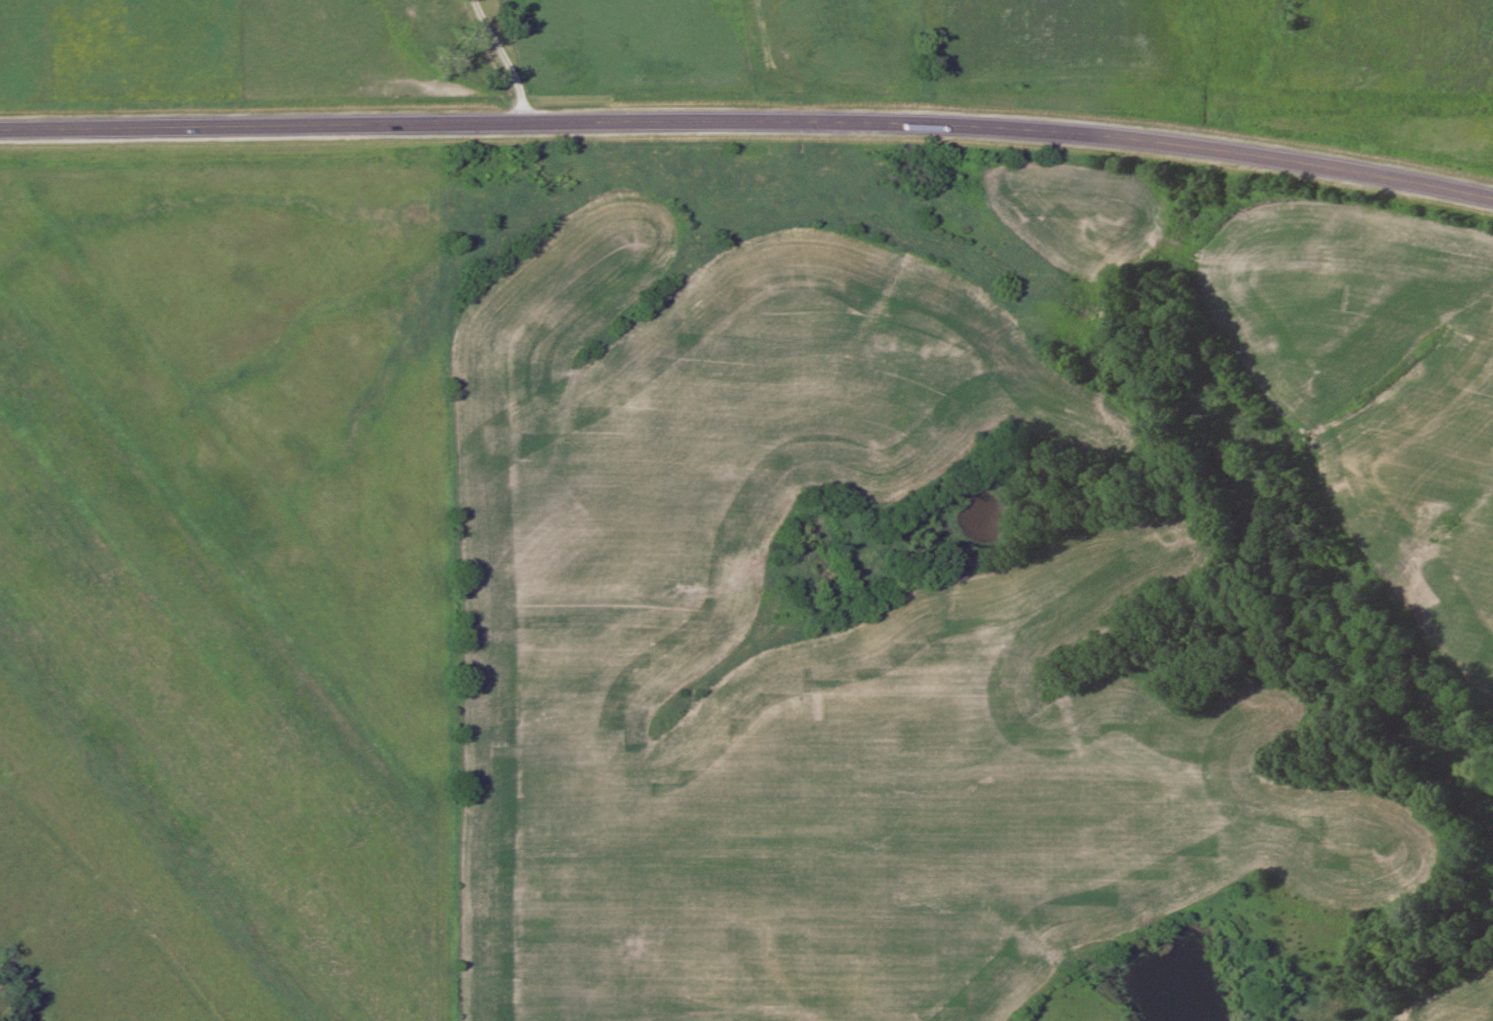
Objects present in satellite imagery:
road: (505, 59)
road: (749, 122)

